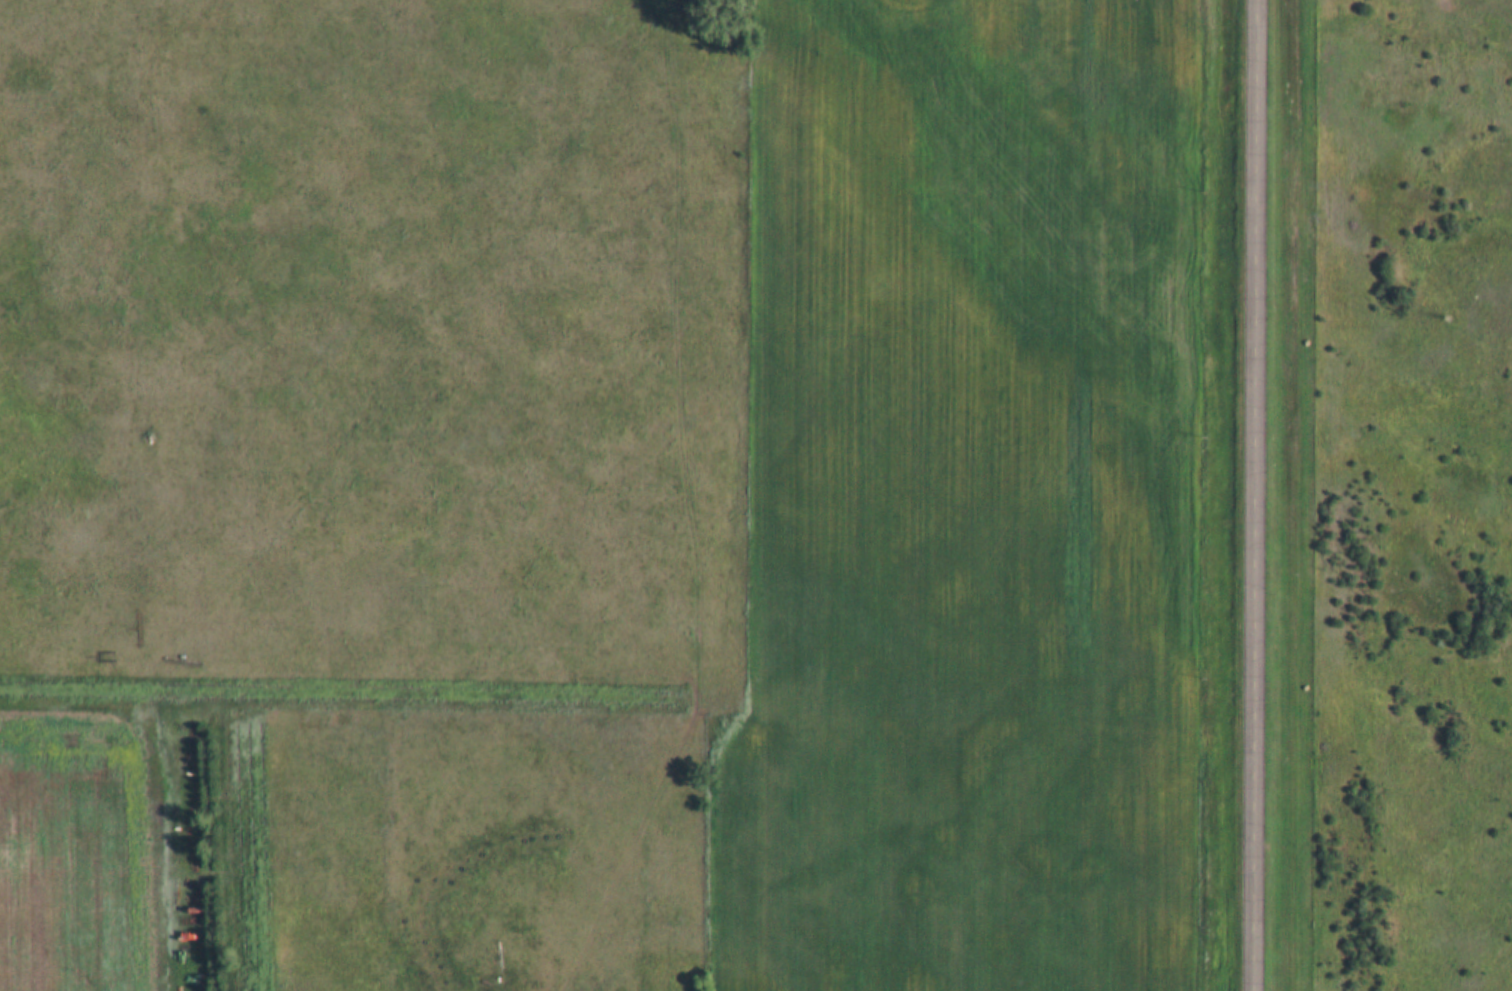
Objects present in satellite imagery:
road: (1256, 495)

